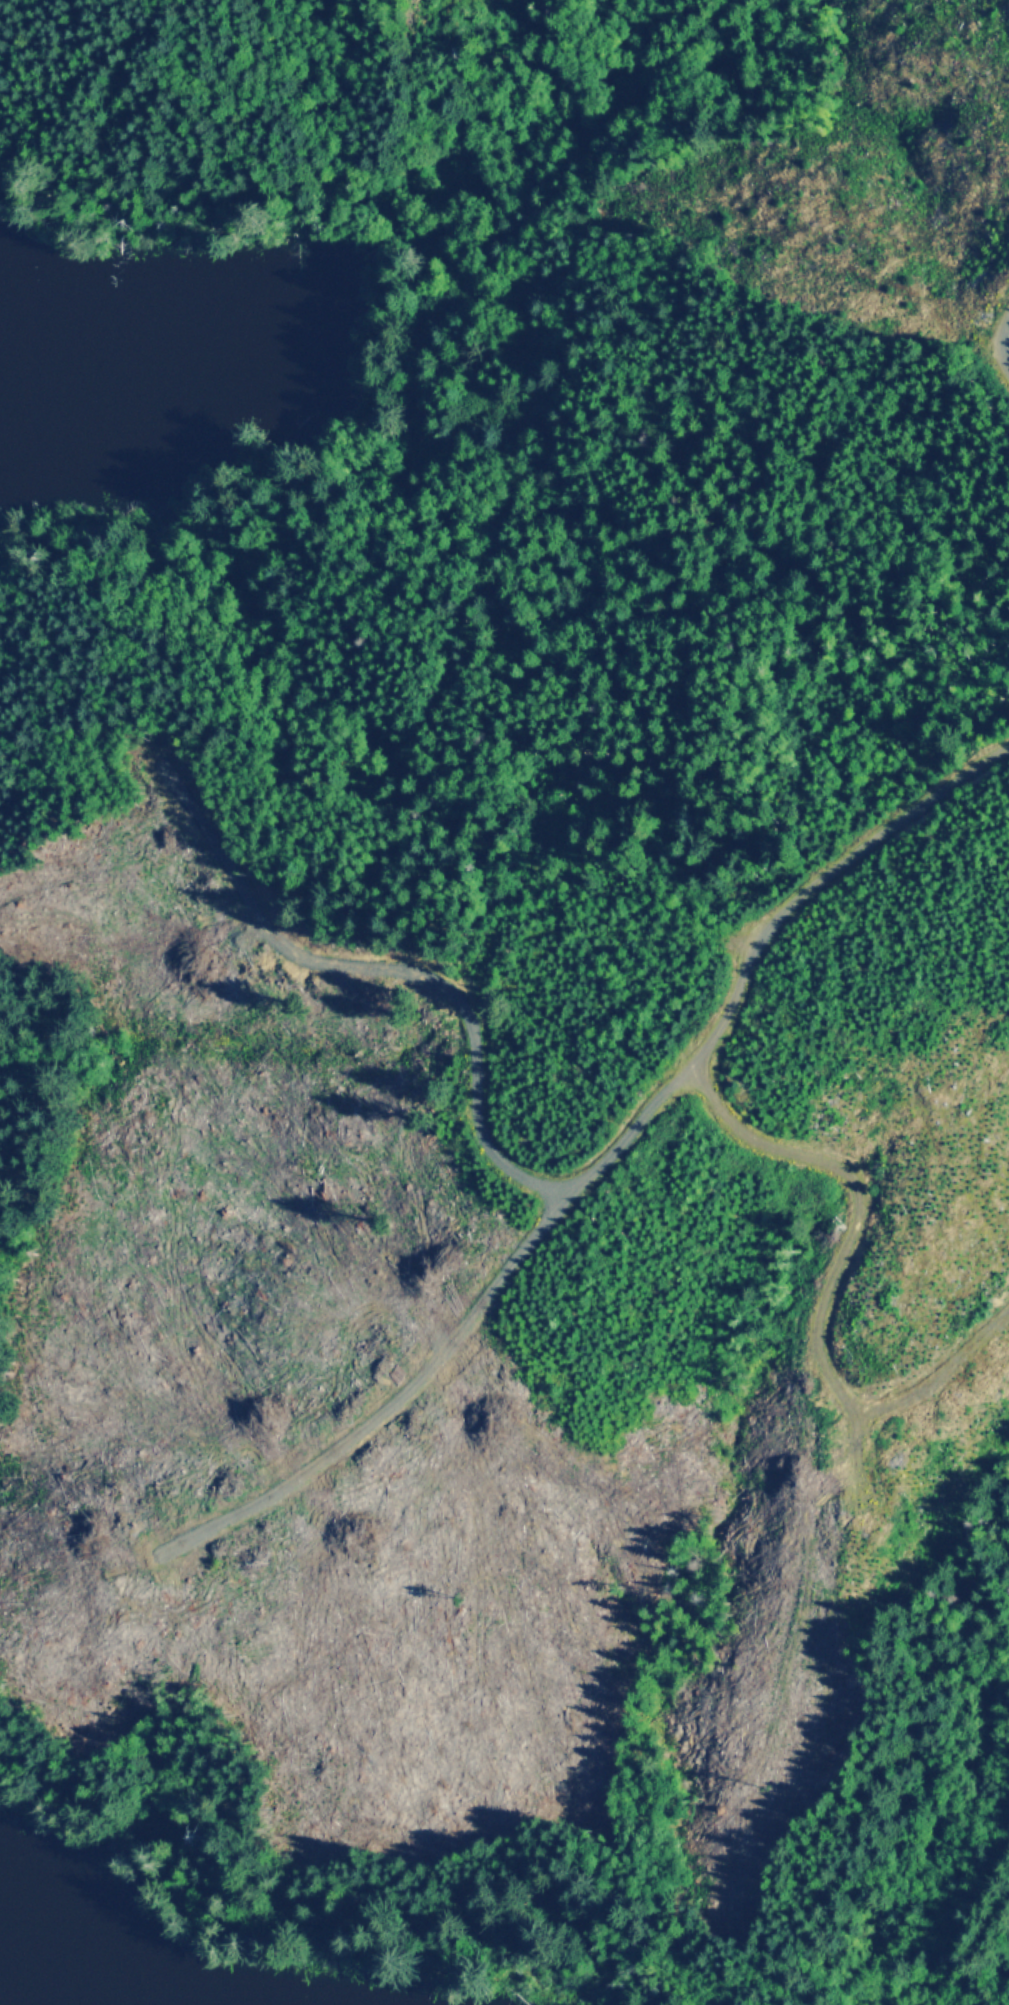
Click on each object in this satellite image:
road: (635, 1143)

